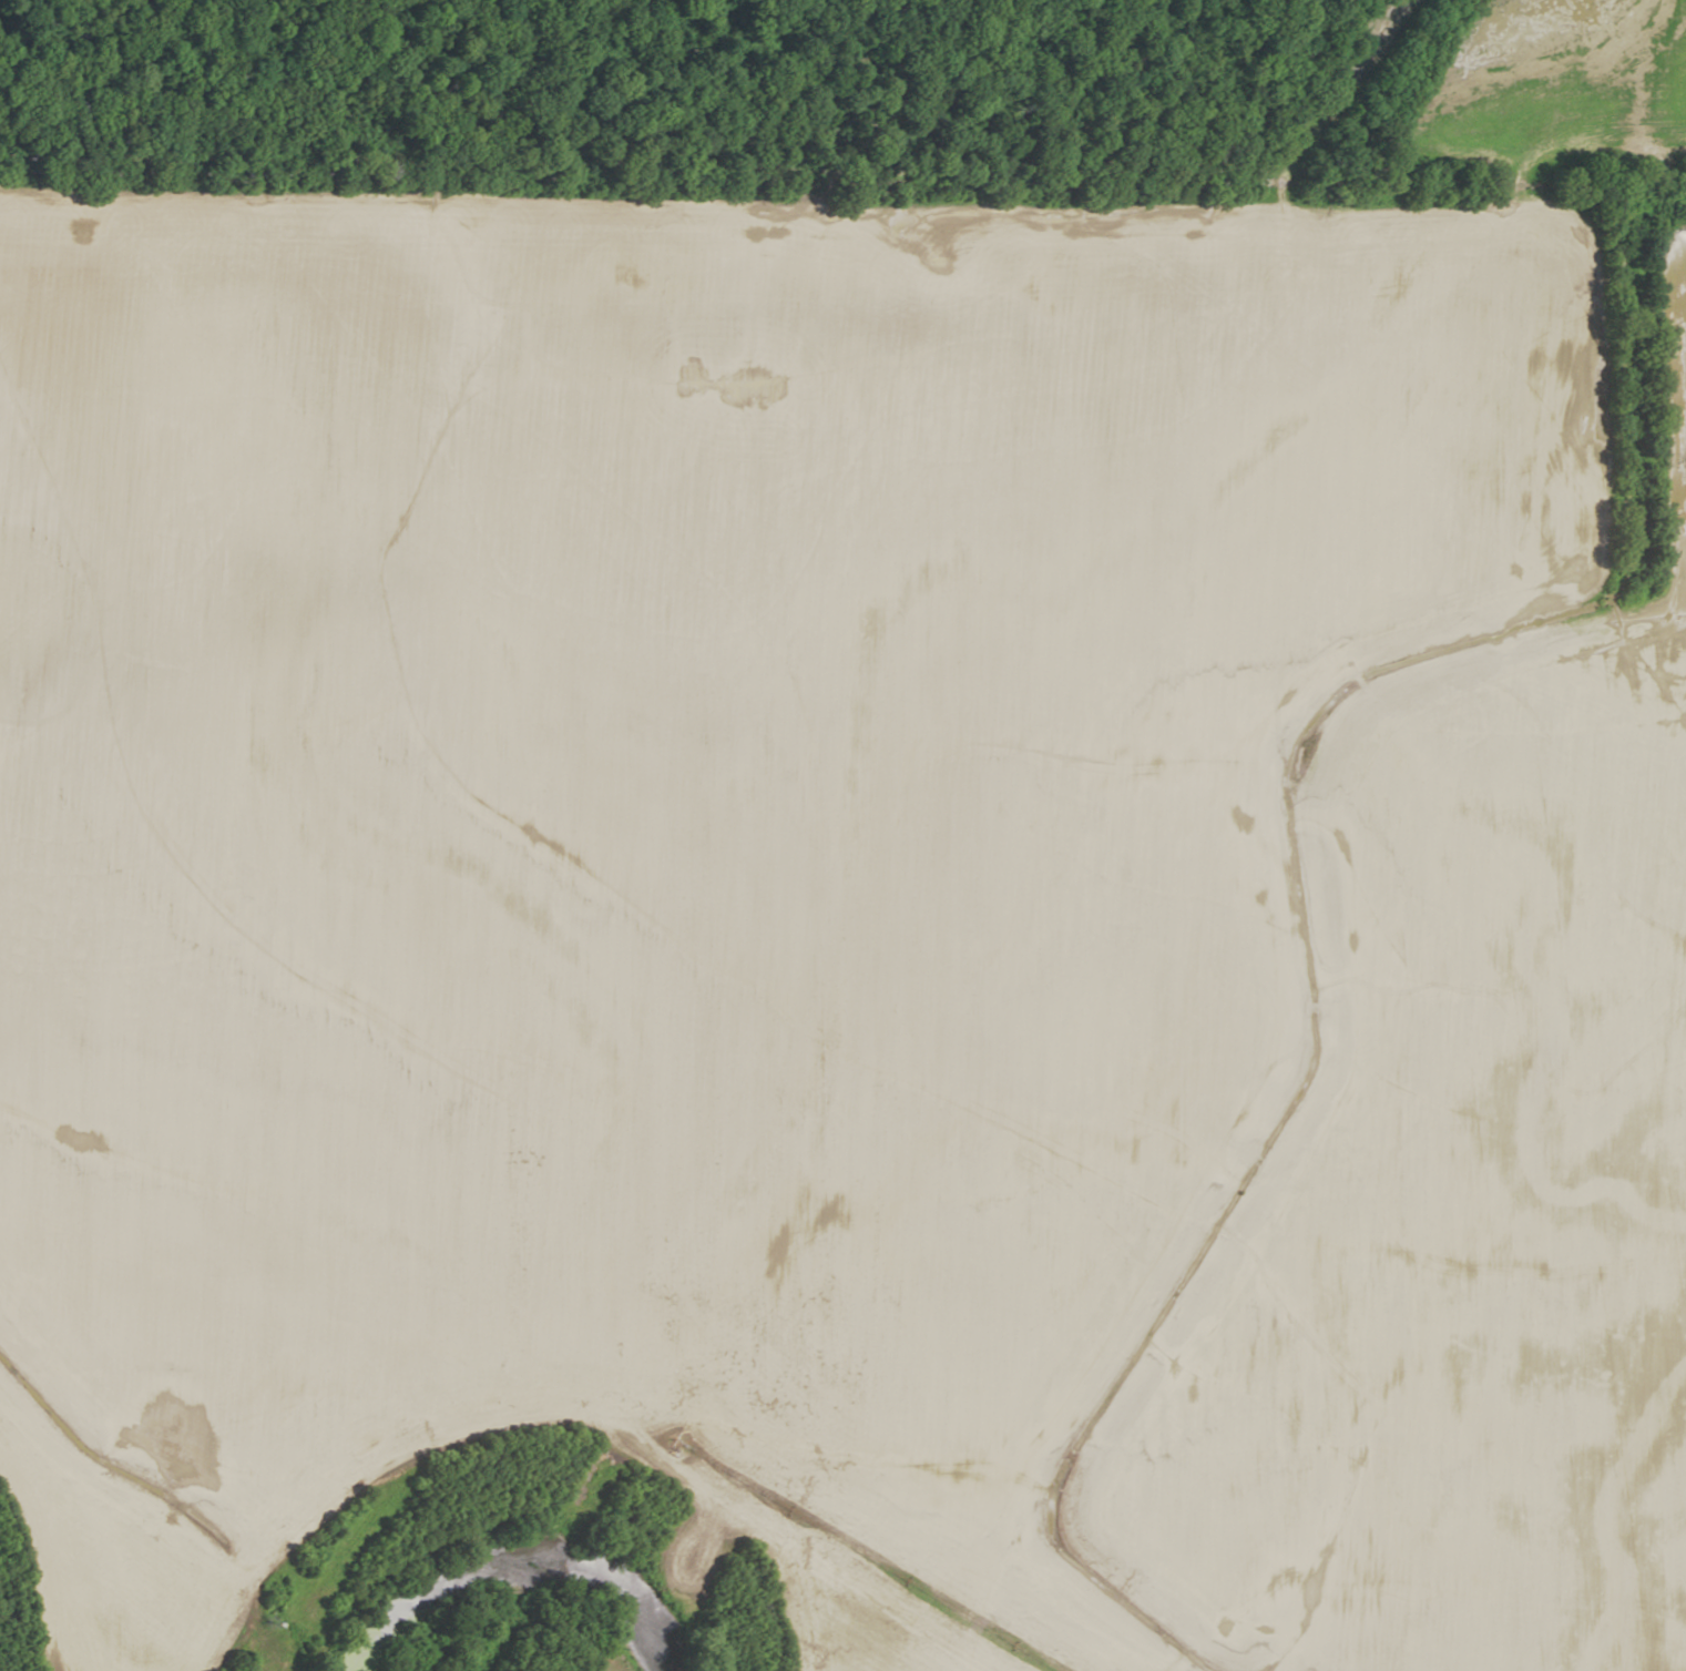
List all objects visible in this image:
road: (825, 1567)

